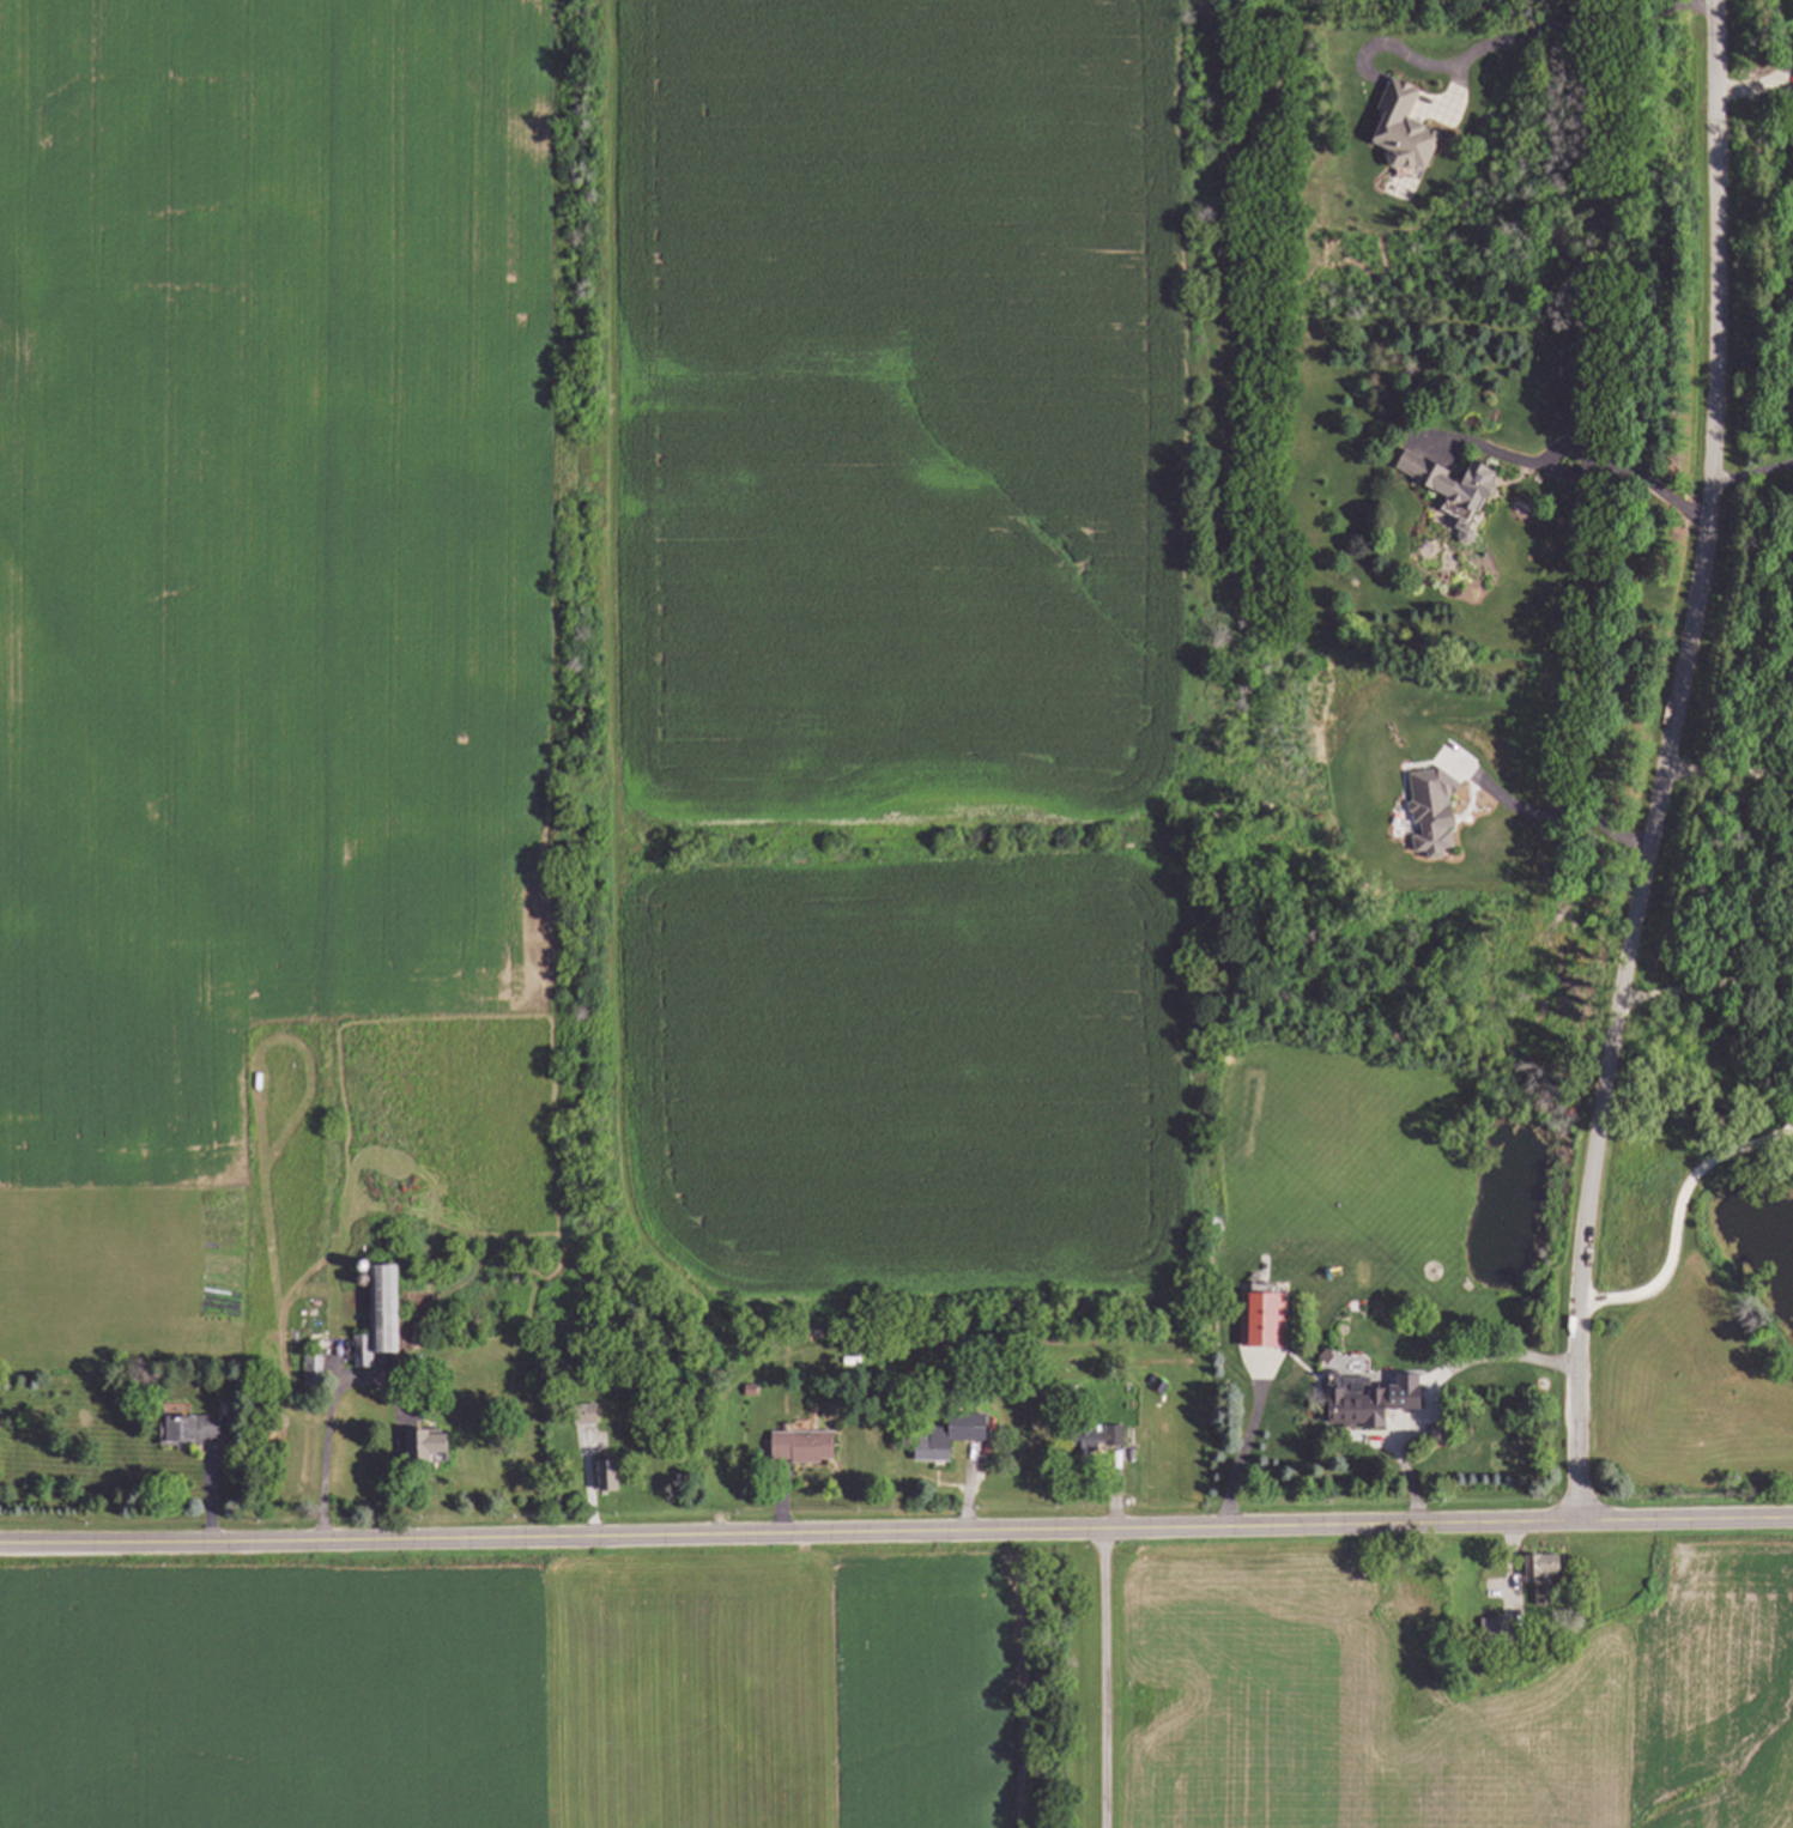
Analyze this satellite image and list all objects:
road: (1518, 36)
road: (1757, 80)
building: (1406, 129)
road: (1752, 472)
road: (1646, 478)
building: (1455, 489)
crop: (620, 672)
road: (1667, 763)
road: (1730, 771)
road: (1546, 810)
road: (1706, 985)
road: (1677, 1212)
building: (382, 1320)
building: (1262, 1322)
building: (313, 1374)
road: (1432, 1387)
road: (331, 1409)
building: (1357, 1412)
building: (586, 1416)
building: (190, 1433)
building: (976, 1433)
building: (1095, 1442)
building: (429, 1449)
building: (802, 1449)
building: (932, 1452)
building: (610, 1478)
road: (896, 1532)
building: (1544, 1578)
building: (1488, 1629)
road: (1104, 1678)
crop: (516, 1688)
crop: (1450, 1696)

